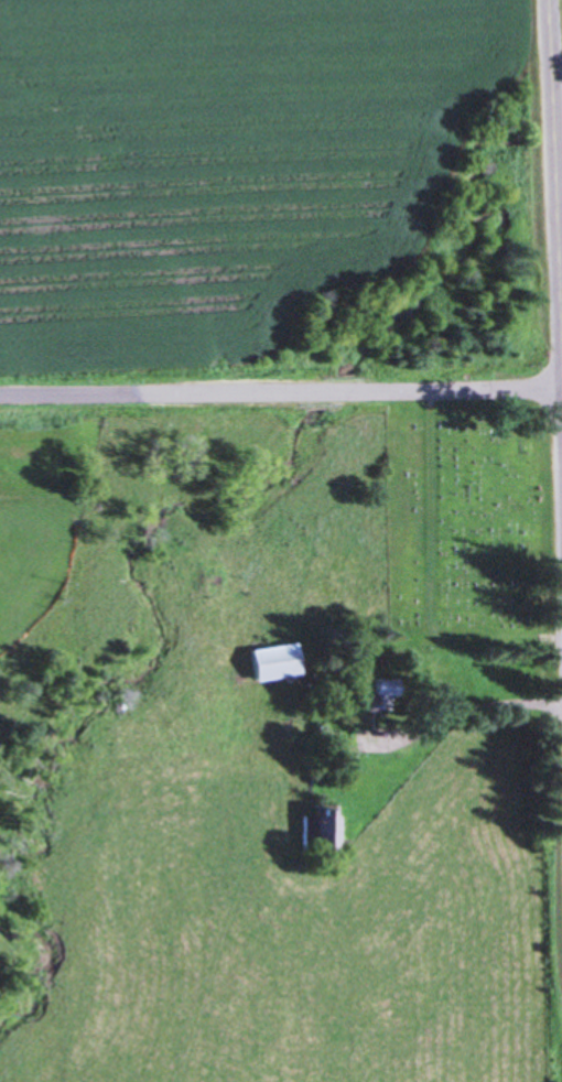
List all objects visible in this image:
road: (553, 151)
road: (280, 388)
building: (270, 663)
building: (378, 695)
road: (460, 707)
building: (320, 816)

